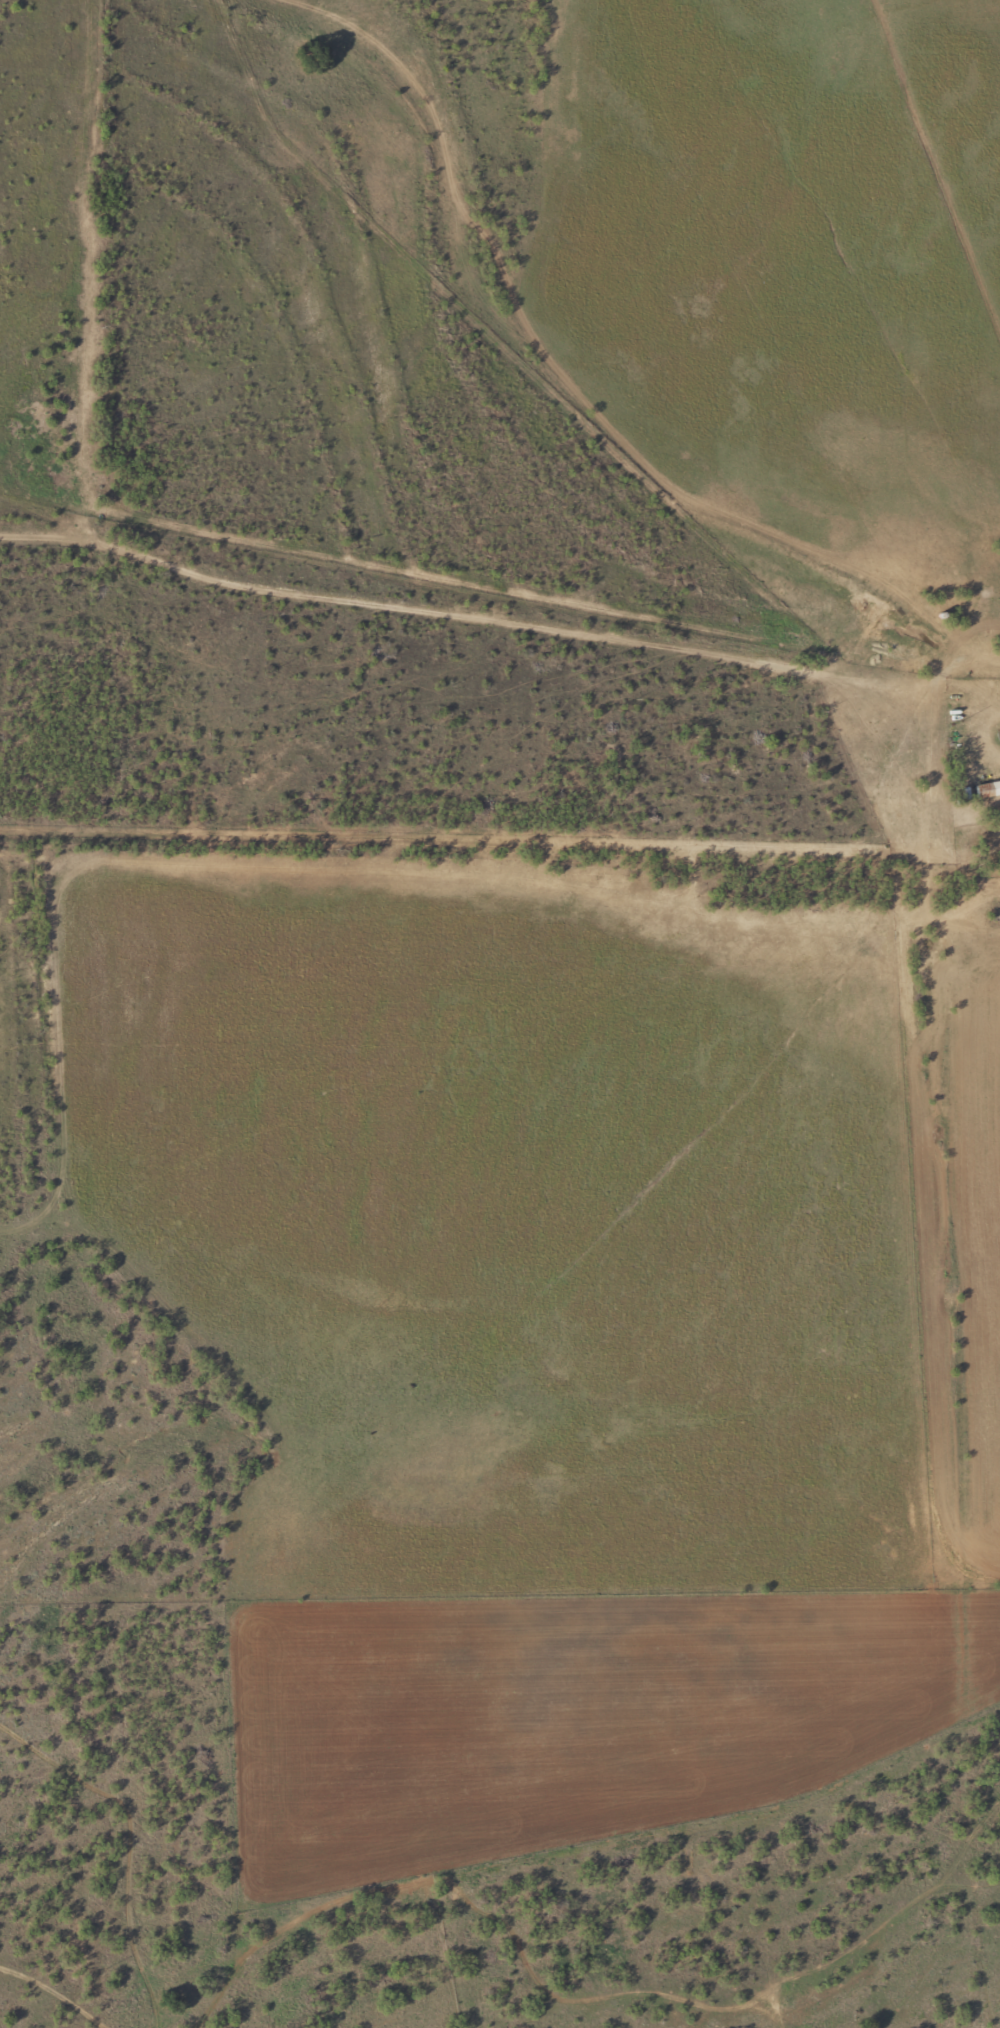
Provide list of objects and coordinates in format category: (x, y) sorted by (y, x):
road: (509, 624)
building: (986, 790)

